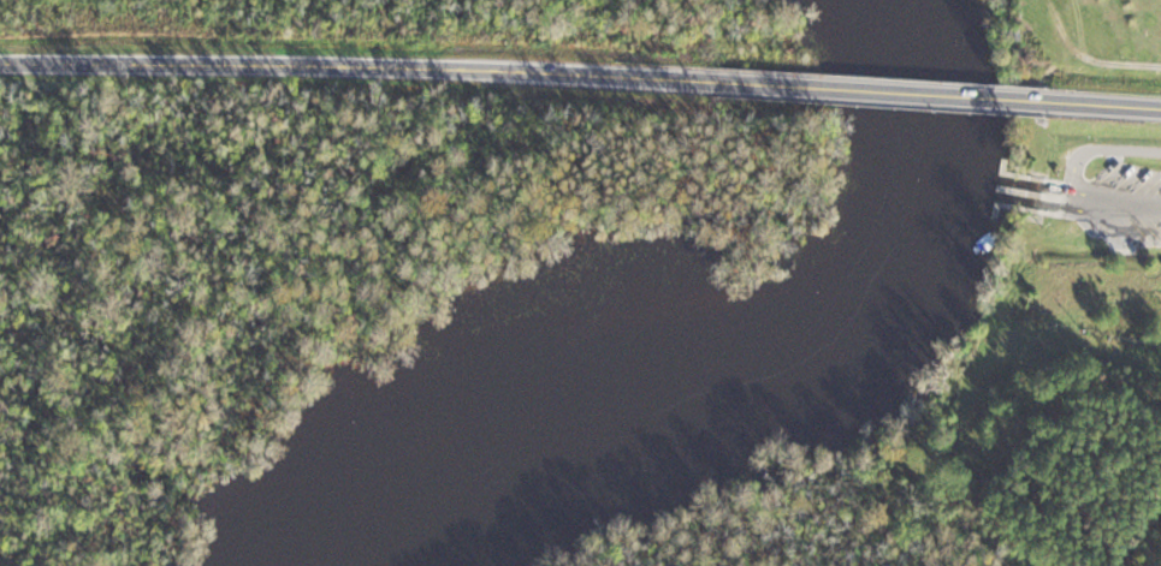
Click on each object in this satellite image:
road: (393, 65)
road: (925, 94)
road: (1112, 105)
road: (1065, 160)
road: (1137, 201)
parking lot: (1138, 202)
road: (1060, 220)

